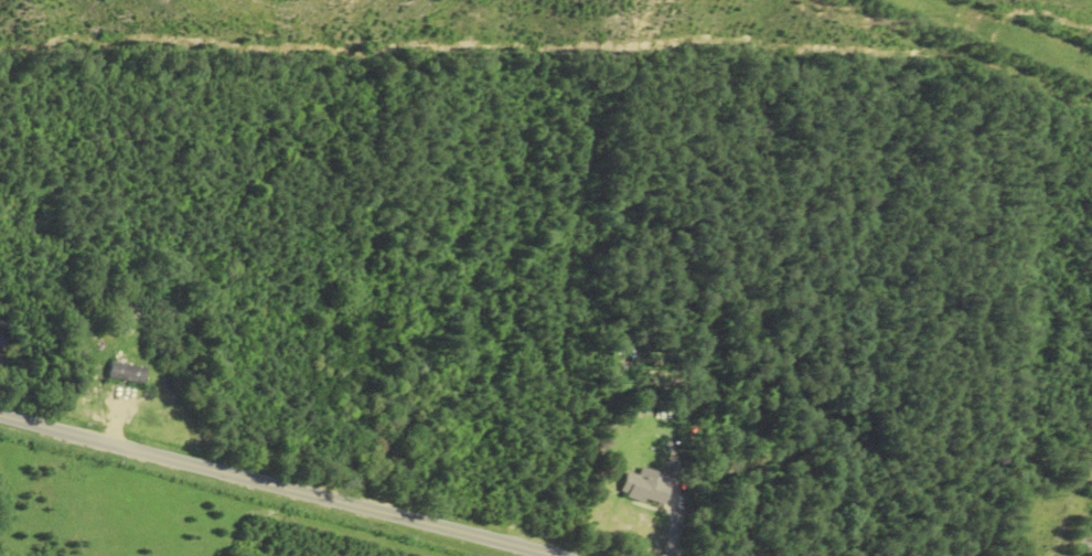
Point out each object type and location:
building: (128, 373)
road: (277, 484)
building: (646, 485)
road: (676, 521)

